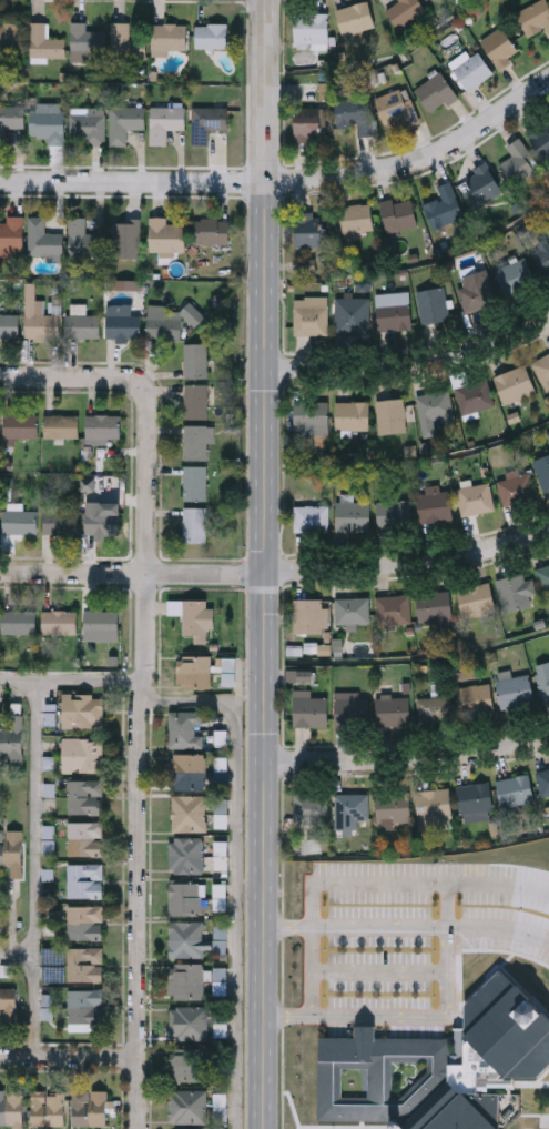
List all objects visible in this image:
building: (429, 0)
building: (404, 10)
building: (533, 14)
building: (354, 16)
building: (309, 27)
building: (12, 34)
building: (211, 34)
building: (170, 38)
building: (87, 40)
building: (42, 41)
building: (125, 41)
building: (499, 44)
building: (470, 69)
building: (305, 89)
building: (435, 89)
building: (395, 104)
building: (354, 112)
building: (11, 118)
building: (210, 119)
building: (306, 119)
building: (125, 121)
building: (165, 121)
building: (48, 125)
building: (87, 127)
building: (540, 135)
building: (517, 160)
road: (418, 161)
road: (133, 179)
building: (481, 182)
building: (441, 204)
building: (397, 212)
building: (355, 218)
building: (306, 228)
building: (214, 233)
building: (12, 235)
building: (83, 238)
building: (166, 238)
building: (126, 239)
building: (43, 241)
building: (540, 252)
building: (308, 265)
building: (514, 272)
building: (125, 284)
building: (475, 289)
building: (430, 303)
building: (55, 304)
building: (393, 308)
building: (309, 312)
building: (350, 312)
building: (37, 315)
building: (8, 324)
building: (82, 324)
building: (162, 325)
building: (123, 327)
building: (195, 357)
road: (413, 364)
building: (541, 367)
building: (514, 382)
building: (472, 395)
building: (195, 399)
building: (434, 407)
building: (349, 413)
building: (388, 413)
building: (311, 416)
building: (20, 427)
building: (62, 427)
building: (102, 427)
building: (196, 439)
building: (7, 464)
building: (541, 468)
building: (194, 481)
building: (88, 484)
building: (515, 485)
building: (472, 496)
building: (433, 504)
building: (393, 511)
building: (352, 514)
building: (308, 516)
building: (20, 523)
building: (61, 523)
building: (194, 523)
building: (103, 524)
road: (409, 562)
road: (267, 564)
road: (133, 572)
building: (542, 577)
building: (511, 591)
building: (475, 597)
building: (433, 604)
building: (392, 606)
building: (350, 608)
building: (309, 613)
building: (195, 622)
building: (19, 623)
building: (60, 624)
building: (102, 627)
building: (324, 649)
road: (408, 658)
building: (195, 672)
building: (299, 676)
road: (17, 677)
building: (230, 682)
building: (542, 682)
road: (145, 683)
building: (514, 688)
building: (475, 695)
road: (204, 699)
building: (308, 706)
building: (350, 706)
building: (392, 707)
building: (433, 707)
building: (83, 712)
building: (185, 730)
building: (12, 742)
building: (83, 756)
road: (408, 756)
road: (34, 772)
building: (189, 773)
building: (542, 778)
building: (514, 788)
building: (85, 798)
building: (472, 799)
building: (309, 805)
building: (433, 806)
building: (390, 807)
building: (348, 808)
building: (189, 814)
building: (85, 840)
building: (312, 845)
building: (11, 855)
building: (186, 856)
building: (85, 883)
road: (408, 883)
building: (220, 897)
building: (186, 900)
road: (446, 904)
building: (85, 924)
road: (286, 926)
road: (378, 926)
road: (498, 928)
building: (186, 940)
building: (85, 966)
road: (378, 970)
road: (309, 971)
building: (186, 982)
road: (33, 1000)
building: (8, 1005)
building: (48, 1007)
building: (85, 1008)
road: (398, 1017)
building: (190, 1024)
road: (70, 1058)
building: (437, 1065)
building: (186, 1067)
building: (221, 1107)
building: (187, 1108)
building: (11, 1109)
building: (48, 1110)
building: (90, 1110)

